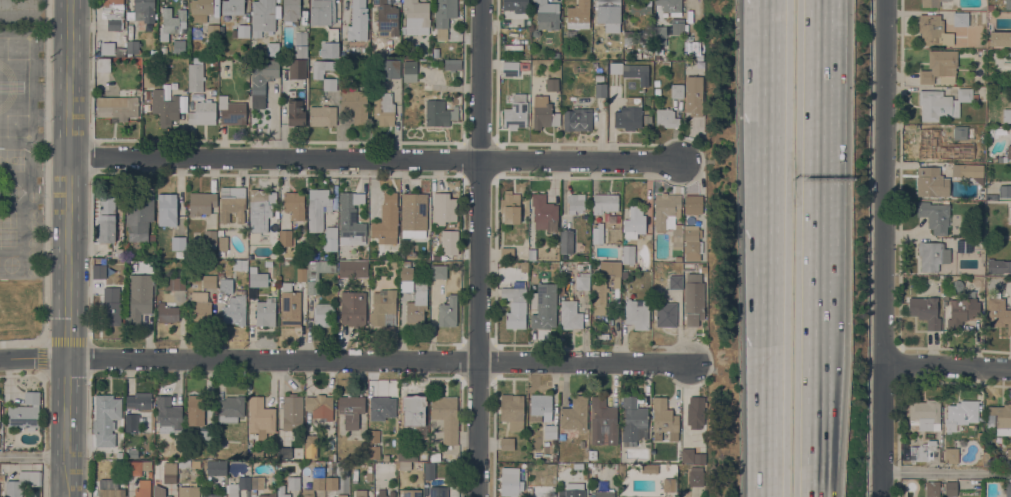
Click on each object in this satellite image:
building: (931, 3)
building: (1008, 4)
building: (516, 5)
building: (670, 6)
building: (233, 7)
building: (640, 7)
road: (775, 7)
building: (991, 7)
building: (201, 10)
building: (291, 10)
building: (143, 11)
building: (547, 13)
building: (609, 14)
building: (113, 15)
building: (578, 15)
building: (262, 16)
building: (444, 16)
building: (416, 17)
building: (386, 18)
building: (964, 19)
building: (358, 21)
building: (171, 23)
building: (325, 25)
building: (679, 28)
building: (931, 28)
building: (212, 30)
building: (243, 30)
building: (659, 36)
building: (629, 37)
building: (999, 38)
building: (950, 43)
building: (300, 44)
building: (132, 46)
building: (107, 47)
building: (179, 47)
building: (272, 49)
building: (119, 50)
building: (659, 51)
building: (393, 52)
building: (437, 53)
building: (342, 54)
building: (555, 55)
building: (214, 61)
building: (103, 64)
building: (452, 65)
building: (514, 67)
building: (615, 67)
building: (939, 67)
building: (321, 68)
building: (389, 68)
building: (637, 68)
building: (297, 69)
building: (410, 70)
building: (1009, 73)
building: (195, 75)
building: (616, 75)
building: (148, 78)
building: (599, 78)
building: (262, 79)
building: (656, 82)
building: (329, 84)
building: (552, 84)
building: (174, 85)
building: (600, 90)
building: (677, 91)
building: (213, 92)
building: (147, 94)
building: (694, 95)
building: (200, 96)
building: (942, 103)
building: (354, 105)
building: (117, 107)
building: (146, 107)
building: (164, 107)
building: (384, 108)
building: (232, 111)
building: (296, 112)
building: (516, 112)
building: (543, 112)
building: (203, 113)
building: (439, 113)
building: (322, 115)
building: (1007, 115)
building: (632, 117)
building: (666, 118)
building: (577, 119)
building: (997, 130)
building: (960, 133)
building: (929, 142)
building: (1009, 151)
road: (373, 158)
building: (1000, 158)
building: (966, 169)
road: (813, 171)
building: (931, 182)
building: (1005, 191)
building: (991, 197)
building: (201, 202)
building: (232, 203)
building: (335, 203)
building: (575, 203)
building: (605, 203)
building: (693, 204)
building: (295, 205)
building: (510, 207)
building: (318, 208)
building: (443, 208)
building: (167, 209)
building: (261, 209)
building: (414, 211)
building: (544, 212)
building: (139, 215)
building: (668, 216)
building: (935, 216)
building: (351, 217)
building: (386, 220)
building: (106, 221)
building: (634, 222)
building: (597, 233)
building: (302, 236)
building: (152, 237)
building: (210, 238)
building: (330, 239)
building: (691, 239)
building: (979, 239)
building: (284, 240)
building: (449, 241)
building: (566, 241)
building: (178, 245)
building: (222, 245)
building: (964, 246)
road: (68, 248)
road: (479, 248)
road: (883, 248)
building: (311, 252)
building: (507, 253)
building: (531, 254)
building: (627, 254)
building: (933, 255)
road: (773, 256)
building: (687, 257)
building: (678, 258)
building: (240, 264)
building: (268, 264)
building: (393, 264)
building: (505, 264)
building: (998, 265)
building: (352, 268)
building: (253, 269)
building: (703, 269)
building: (438, 271)
building: (317, 273)
building: (301, 274)
building: (405, 276)
building: (613, 276)
building: (258, 279)
building: (209, 281)
building: (582, 282)
building: (675, 282)
building: (175, 283)
building: (225, 286)
building: (599, 294)
building: (139, 297)
building: (693, 299)
building: (515, 304)
building: (111, 306)
building: (290, 306)
building: (544, 306)
building: (383, 307)
building: (353, 308)
building: (416, 308)
building: (200, 309)
building: (235, 309)
building: (962, 309)
building: (925, 310)
building: (447, 311)
building: (265, 312)
building: (998, 312)
building: (323, 313)
building: (637, 313)
building: (168, 314)
building: (666, 314)
building: (570, 315)
road: (343, 359)
road: (947, 365)
building: (140, 400)
building: (320, 406)
building: (382, 407)
building: (540, 407)
building: (230, 409)
building: (351, 409)
building: (196, 410)
building: (413, 410)
building: (512, 411)
building: (25, 412)
building: (292, 412)
building: (695, 412)
building: (574, 413)
building: (926, 413)
building: (961, 414)
building: (168, 416)
building: (260, 416)
building: (446, 416)
building: (1000, 418)
building: (106, 419)
building: (664, 419)
road: (811, 419)
building: (633, 420)
building: (603, 421)
building: (132, 422)
building: (363, 429)
building: (550, 431)
building: (206, 436)
building: (373, 436)
building: (311, 441)
building: (506, 443)
building: (373, 451)
building: (284, 452)
building: (925, 452)
building: (132, 453)
building: (257, 453)
building: (592, 454)
building: (404, 455)
building: (687, 455)
building: (951, 455)
building: (1008, 455)
road: (33, 456)
building: (435, 457)
building: (987, 460)
building: (184, 464)
building: (404, 465)
building: (137, 467)
building: (216, 468)
building: (369, 468)
building: (649, 468)
building: (429, 470)
building: (621, 470)
road: (946, 470)
building: (169, 472)
road: (42, 476)
building: (368, 476)
building: (695, 476)
building: (2, 477)
building: (510, 481)
building: (21, 482)
building: (257, 482)
building: (293, 482)
building: (330, 483)
building: (108, 484)
building: (669, 484)
building: (238, 486)
building: (313, 486)
building: (142, 488)
building: (932, 488)
building: (950, 488)
building: (1008, 488)
building: (159, 491)
building: (189, 491)
building: (281, 491)
building: (111, 492)
building: (438, 492)
building: (529, 492)
building: (360, 493)
building: (384, 493)
building: (411, 493)
building: (572, 494)
building: (601, 494)
building: (212, 495)
building: (168, 496)
building: (268, 496)
building: (342, 496)

